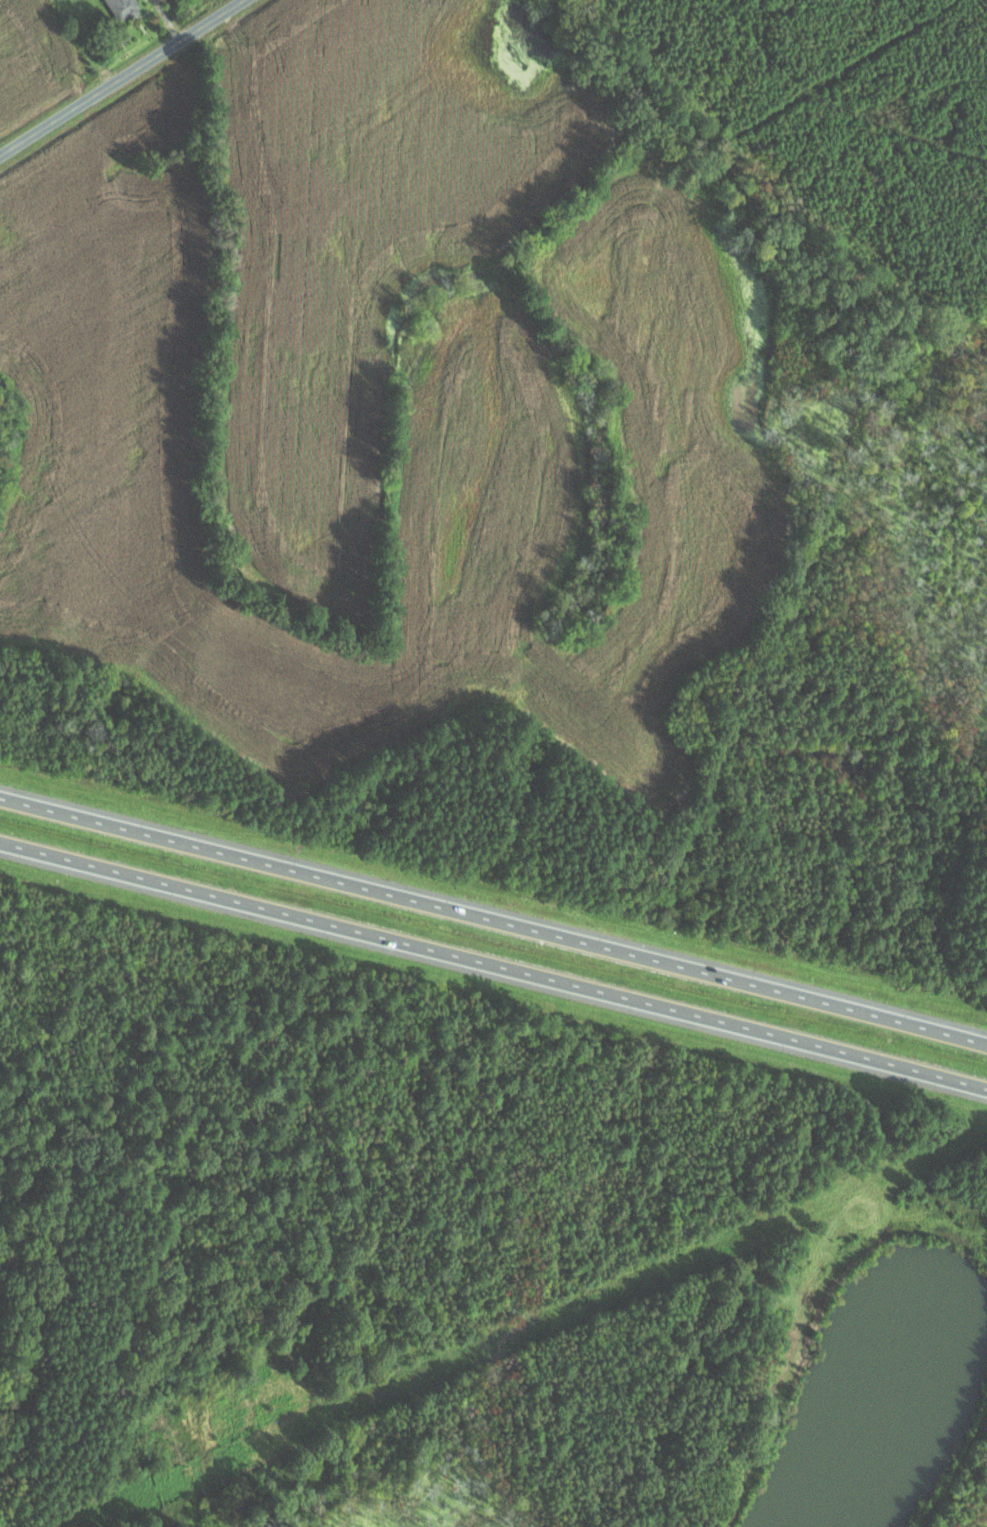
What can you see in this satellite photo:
building: (123, 7)
road: (120, 76)
road: (493, 918)
road: (493, 963)

